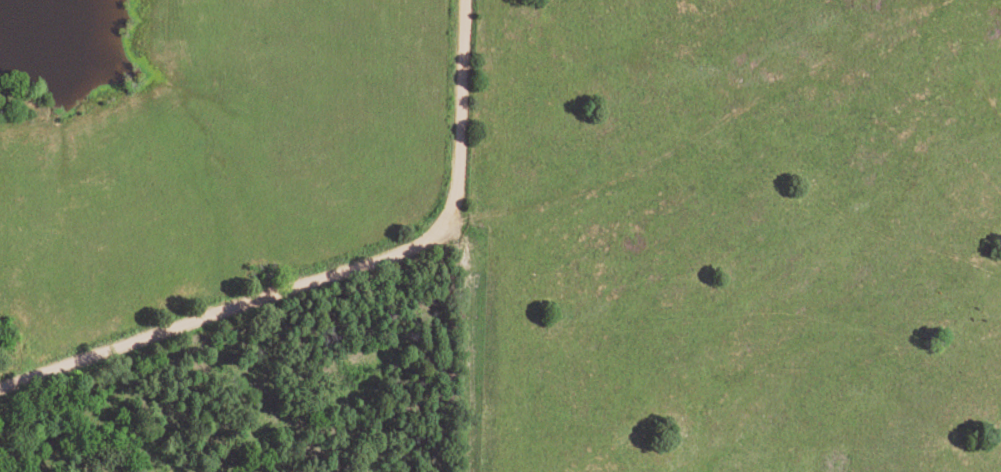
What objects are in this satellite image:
road: (332, 275)

